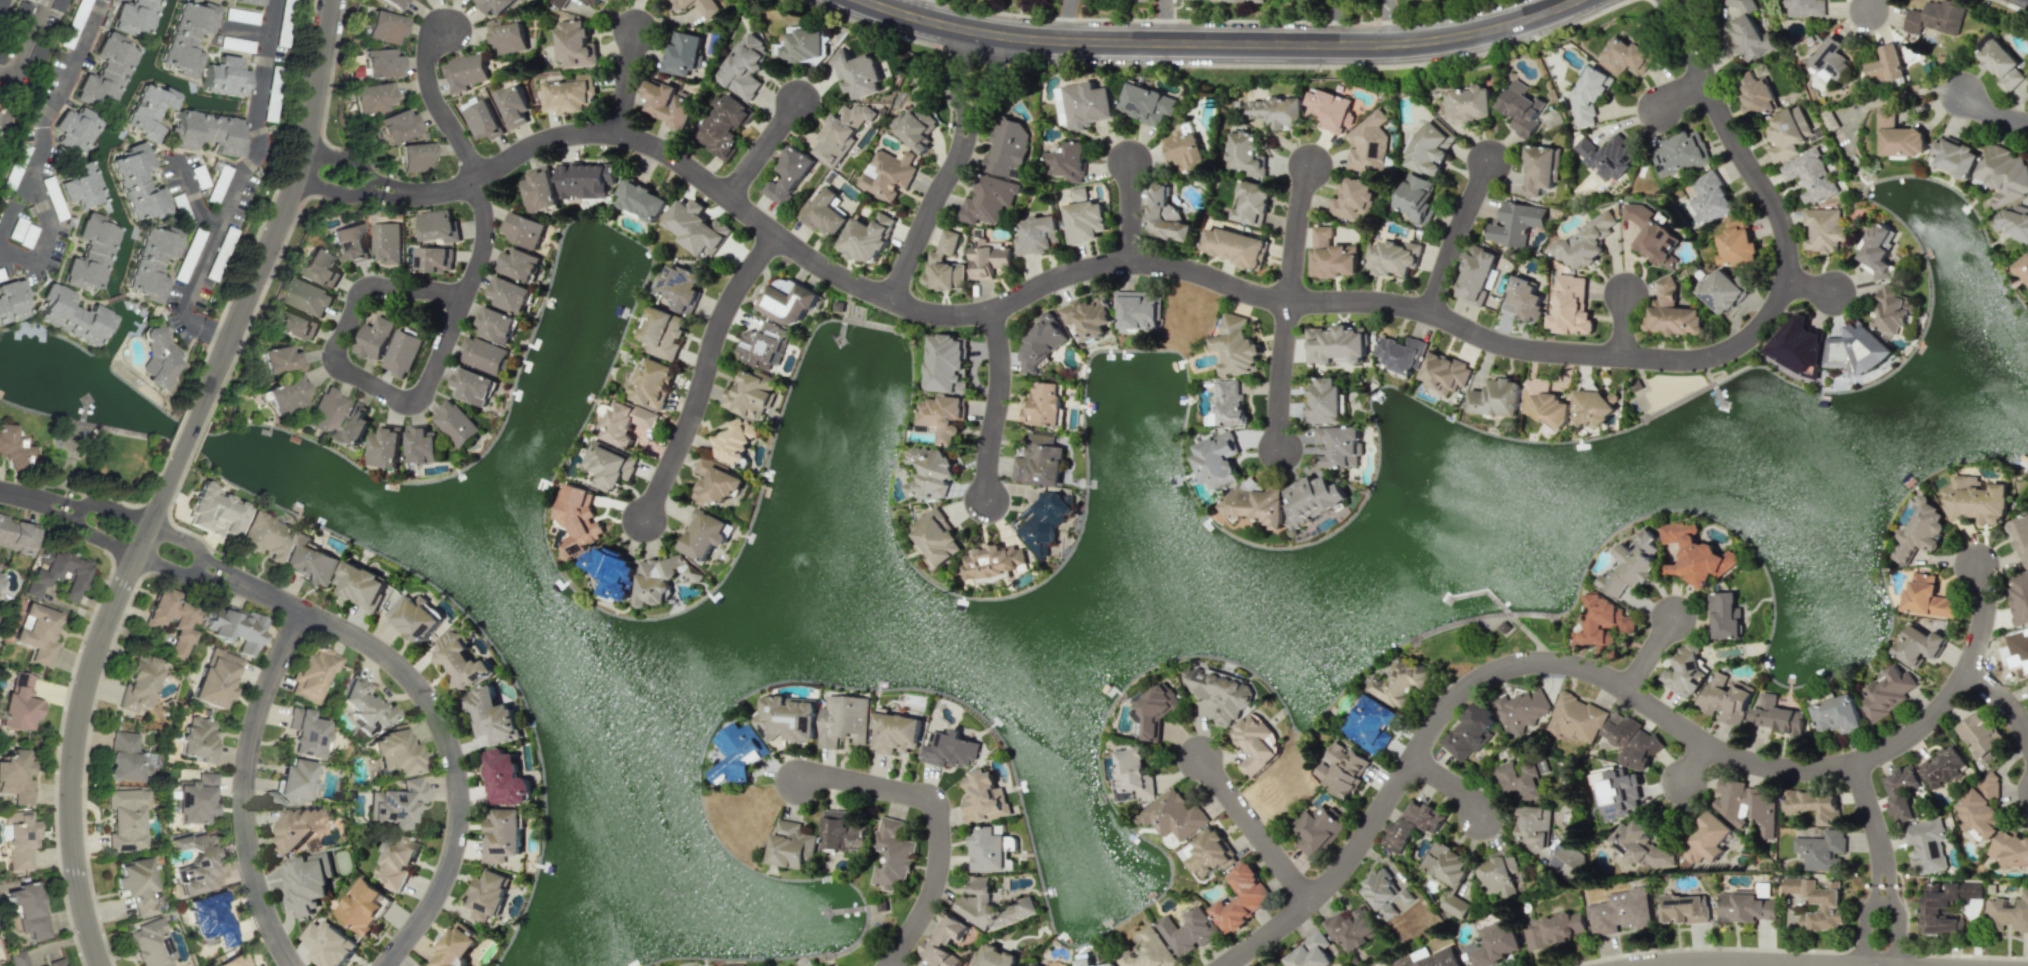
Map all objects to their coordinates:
building: (1237, 0)
building: (247, 2)
road: (1568, 2)
building: (395, 3)
building: (559, 3)
building: (593, 3)
building: (496, 5)
road: (1872, 5)
building: (698, 6)
building: (1805, 7)
building: (21, 12)
building: (135, 16)
building: (1935, 18)
road: (1691, 19)
road: (1065, 20)
road: (1164, 21)
road: (1391, 21)
building: (385, 27)
building: (1750, 31)
building: (508, 37)
building: (187, 38)
road: (1221, 42)
building: (575, 44)
building: (803, 45)
road: (21, 51)
building: (683, 52)
building: (1, 55)
building: (1624, 56)
building: (1828, 58)
building: (378, 62)
building: (2001, 64)
building: (1886, 65)
building: (745, 66)
building: (106, 72)
building: (465, 72)
building: (858, 73)
building: (225, 77)
road: (975, 79)
road: (628, 82)
road: (1682, 86)
building: (569, 95)
building: (1758, 95)
building: (371, 97)
building: (1589, 97)
road: (439, 102)
building: (669, 103)
building: (1085, 104)
building: (1148, 104)
building: (1469, 104)
building: (513, 105)
building: (1521, 108)
building: (149, 110)
building: (1330, 110)
building: (1276, 111)
road: (1993, 114)
building: (483, 120)
building: (723, 124)
building: (398, 125)
building: (917, 128)
building: (75, 129)
building: (1788, 131)
building: (208, 132)
building: (841, 133)
building: (1899, 136)
road: (36, 142)
building: (259, 142)
building: (1369, 143)
building: (1008, 148)
building: (1431, 148)
building: (1185, 149)
road: (765, 150)
building: (1247, 154)
building: (1608, 156)
building: (415, 157)
building: (1955, 157)
building: (1066, 161)
building: (1539, 169)
road: (341, 173)
building: (890, 173)
building: (2003, 174)
building: (1811, 175)
building: (789, 176)
building: (585, 179)
building: (137, 183)
building: (80, 184)
road: (238, 187)
building: (540, 189)
building: (1080, 193)
road: (192, 196)
building: (1712, 196)
building: (989, 198)
building: (1416, 198)
building: (1353, 199)
building: (642, 202)
building: (1251, 204)
road: (14, 206)
building: (825, 212)
road: (1130, 212)
road: (931, 213)
road: (286, 214)
building: (1164, 216)
building: (1085, 220)
building: (1515, 223)
building: (2014, 223)
building: (438, 225)
building: (695, 227)
building: (526, 229)
building: (1823, 229)
road: (1296, 231)
building: (1039, 234)
building: (1652, 234)
road: (1458, 235)
building: (867, 238)
road: (485, 241)
building: (386, 242)
building: (1584, 242)
building: (350, 243)
building: (1737, 243)
building: (1235, 246)
building: (1878, 250)
building: (90, 253)
building: (1332, 255)
building: (1394, 257)
building: (433, 258)
building: (990, 259)
building: (151, 262)
building: (520, 264)
building: (945, 264)
building: (320, 267)
building: (2022, 268)
road: (1202, 274)
building: (1477, 275)
building: (681, 283)
road: (1814, 285)
building: (1722, 291)
building: (510, 294)
building: (308, 297)
building: (1524, 297)
building: (11, 300)
building: (787, 301)
building: (1571, 305)
road: (356, 306)
building: (1891, 309)
building: (1138, 310)
building: (1672, 312)
building: (70, 314)
building: (1086, 317)
building: (295, 324)
building: (495, 324)
road: (1623, 324)
building: (663, 333)
building: (374, 338)
building: (1042, 343)
building: (763, 344)
building: (1335, 344)
building: (1799, 345)
building: (1236, 346)
building: (1856, 350)
building: (401, 352)
building: (1400, 354)
building: (483, 355)
building: (160, 356)
building: (279, 359)
building: (946, 363)
building: (1445, 372)
road: (705, 375)
road: (1282, 375)
building: (652, 382)
building: (472, 385)
building: (285, 394)
building: (749, 395)
building: (1496, 398)
building: (1324, 400)
building: (1543, 401)
building: (1229, 403)
building: (1043, 404)
building: (1595, 405)
road: (1000, 406)
building: (325, 411)
building: (942, 416)
building: (625, 421)
building: (456, 423)
building: (353, 426)
road: (185, 441)
building: (732, 441)
building: (422, 444)
building: (386, 445)
building: (1338, 446)
building: (13, 448)
building: (1215, 460)
building: (1040, 461)
building: (610, 465)
building: (930, 472)
building: (720, 482)
road: (16, 495)
road: (58, 499)
building: (1313, 499)
building: (1976, 500)
building: (1254, 505)
building: (216, 510)
road: (55, 511)
road: (79, 511)
building: (577, 519)
building: (1043, 520)
building: (1921, 531)
building: (706, 533)
building: (17, 535)
building: (265, 536)
building: (2021, 536)
building: (935, 537)
building: (1695, 554)
building: (310, 561)
building: (995, 561)
road: (196, 563)
building: (1631, 563)
road: (226, 569)
building: (611, 571)
building: (59, 575)
building: (0, 578)
building: (656, 579)
road: (219, 583)
building: (361, 584)
building: (1927, 596)
building: (2019, 598)
building: (1725, 614)
building: (418, 619)
building: (171, 620)
building: (1602, 624)
building: (235, 627)
building: (36, 632)
building: (1918, 645)
road: (1651, 653)
building: (459, 660)
building: (1686, 670)
building: (312, 674)
road: (1610, 678)
building: (214, 679)
building: (2027, 681)
building: (138, 682)
building: (1399, 684)
building: (1217, 691)
building: (1888, 691)
road: (2001, 697)
building: (1725, 698)
building: (364, 705)
building: (19, 706)
building: (1154, 707)
road: (81, 709)
building: (1523, 711)
building: (1837, 714)
building: (1776, 715)
building: (788, 718)
building: (1576, 718)
building: (843, 720)
building: (1371, 724)
building: (1469, 731)
building: (896, 732)
building: (306, 734)
building: (1979, 734)
road: (443, 735)
building: (196, 739)
building: (1633, 740)
building: (1252, 743)
building: (950, 751)
building: (393, 752)
building: (736, 753)
building: (125, 758)
road: (1697, 763)
building: (1943, 766)
building: (1341, 769)
building: (1132, 775)
building: (16, 776)
building: (504, 779)
building: (1520, 780)
building: (293, 782)
road: (1453, 782)
road: (242, 787)
building: (1617, 791)
building: (1901, 793)
building: (983, 796)
building: (195, 799)
building: (397, 803)
building: (1814, 804)
building: (1981, 806)
building: (1762, 811)
building: (1172, 814)
road: (1867, 814)
building: (125, 819)
road: (939, 821)
building: (1412, 824)
building: (1535, 825)
building: (296, 828)
road: (1256, 829)
building: (1319, 830)
building: (842, 832)
building: (502, 835)
building: (19, 840)
building: (1706, 840)
building: (1011, 843)
building: (791, 844)
building: (1926, 845)
building: (1641, 846)
building: (988, 848)
building: (2009, 849)
building: (1821, 850)
building: (1210, 852)
building: (892, 853)
building: (397, 862)
building: (1570, 863)
building: (195, 864)
building: (1498, 873)
building: (1449, 874)
road: (1875, 879)
road: (1888, 880)
building: (307, 881)
building: (137, 885)
building: (1387, 894)
building: (489, 895)
building: (1242, 897)
road: (1883, 897)
building: (1818, 902)
building: (360, 905)
building: (989, 905)
building: (1942, 905)
building: (1747, 907)
building: (26, 909)
building: (1684, 909)
building: (1620, 910)
building: (2008, 913)
building: (211, 918)
building: (1564, 926)
building: (1353, 929)
road: (1866, 930)
building: (1188, 931)
road: (1894, 931)
building: (1535, 937)
building: (944, 941)
building: (326, 942)
building: (150, 944)
building: (1496, 944)
building: (455, 946)
building: (1147, 950)
building: (1310, 952)
building: (994, 957)
building: (17, 958)
building: (1432, 959)
building: (233, 960)
building: (1084, 960)
building: (53, 961)
road: (1746, 963)
building: (1274, 964)
road: (1696, 964)
building: (693, 965)
road: (891, 965)
building: (1027, 965)

